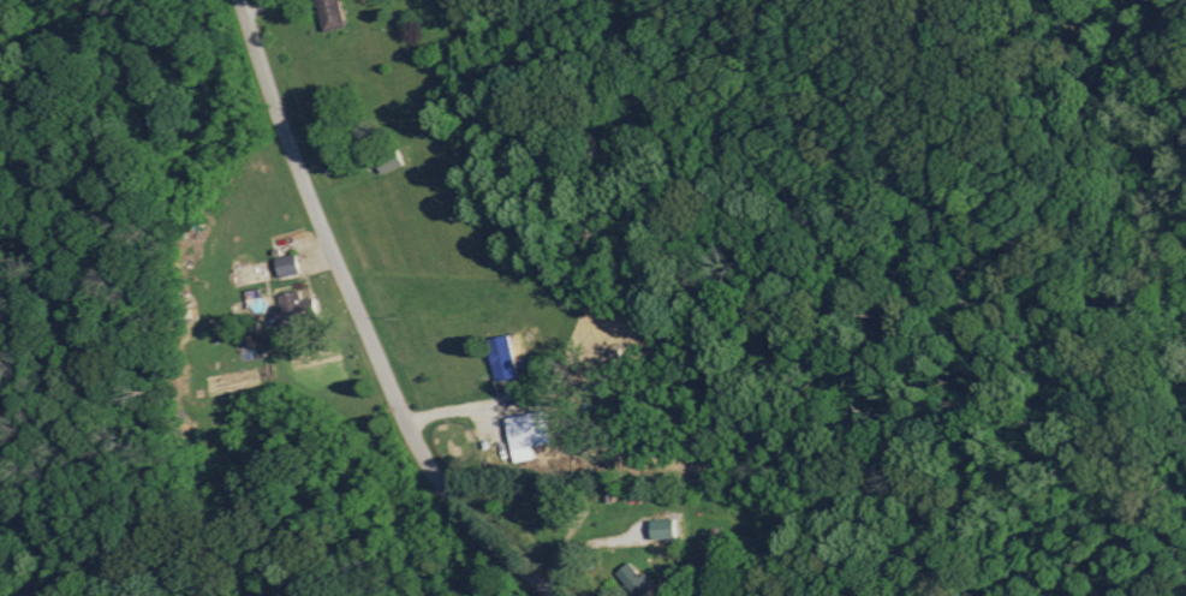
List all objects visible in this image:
building: (328, 13)
building: (387, 160)
building: (285, 264)
building: (290, 304)
road: (364, 324)
building: (499, 356)
building: (525, 433)
building: (660, 526)
road: (618, 565)
building: (633, 579)

